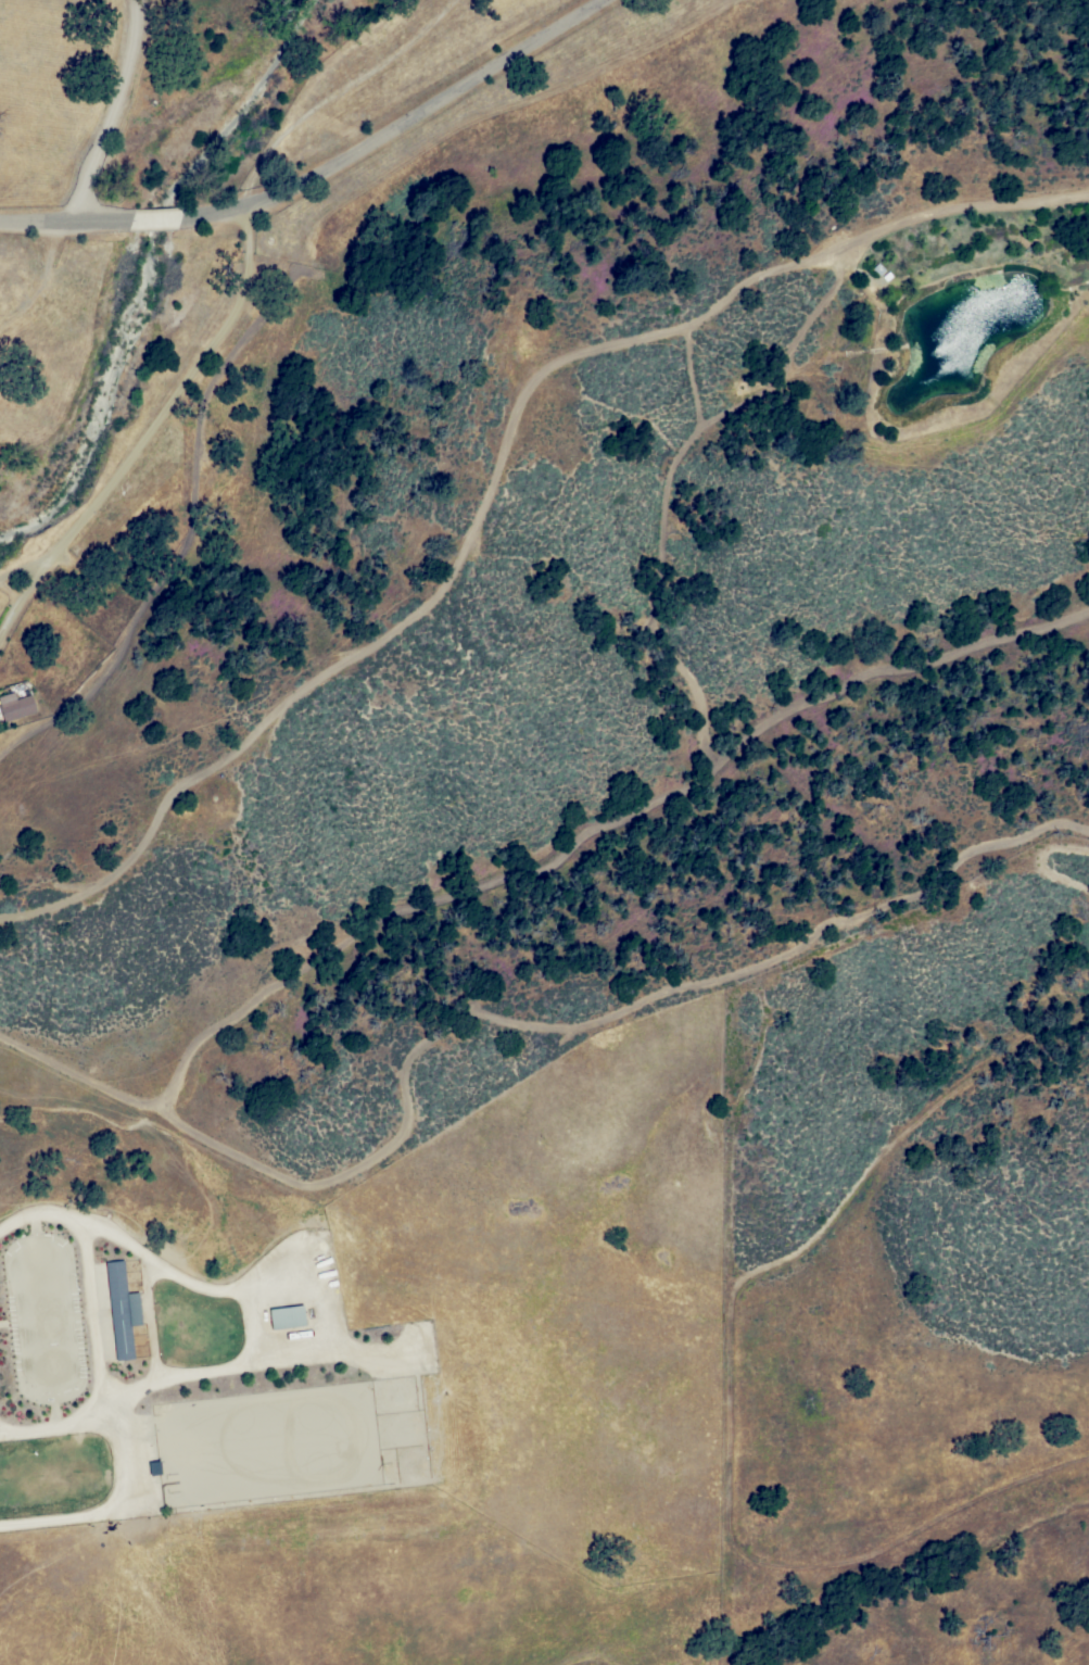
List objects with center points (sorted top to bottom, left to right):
road: (104, 115)
road: (324, 175)
building: (15, 705)
building: (121, 1309)
building: (286, 1316)

